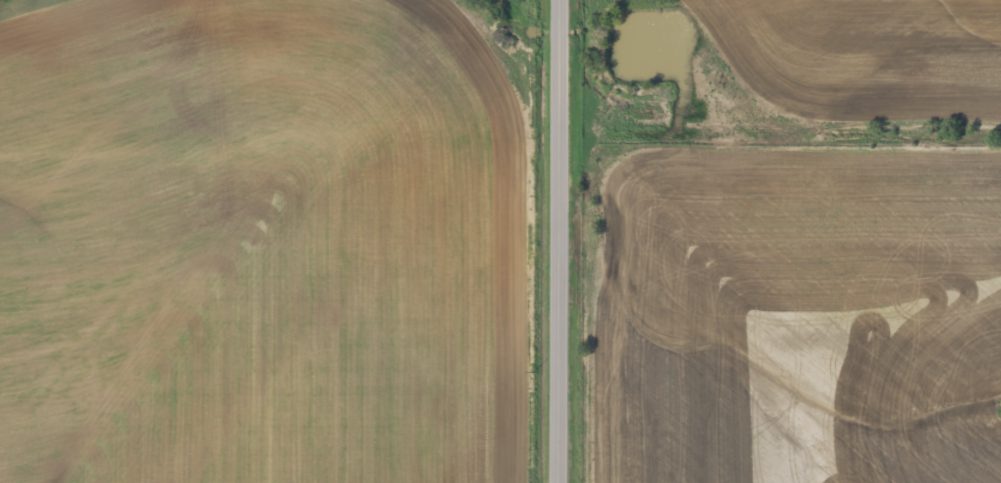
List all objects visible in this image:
road: (563, 241)

